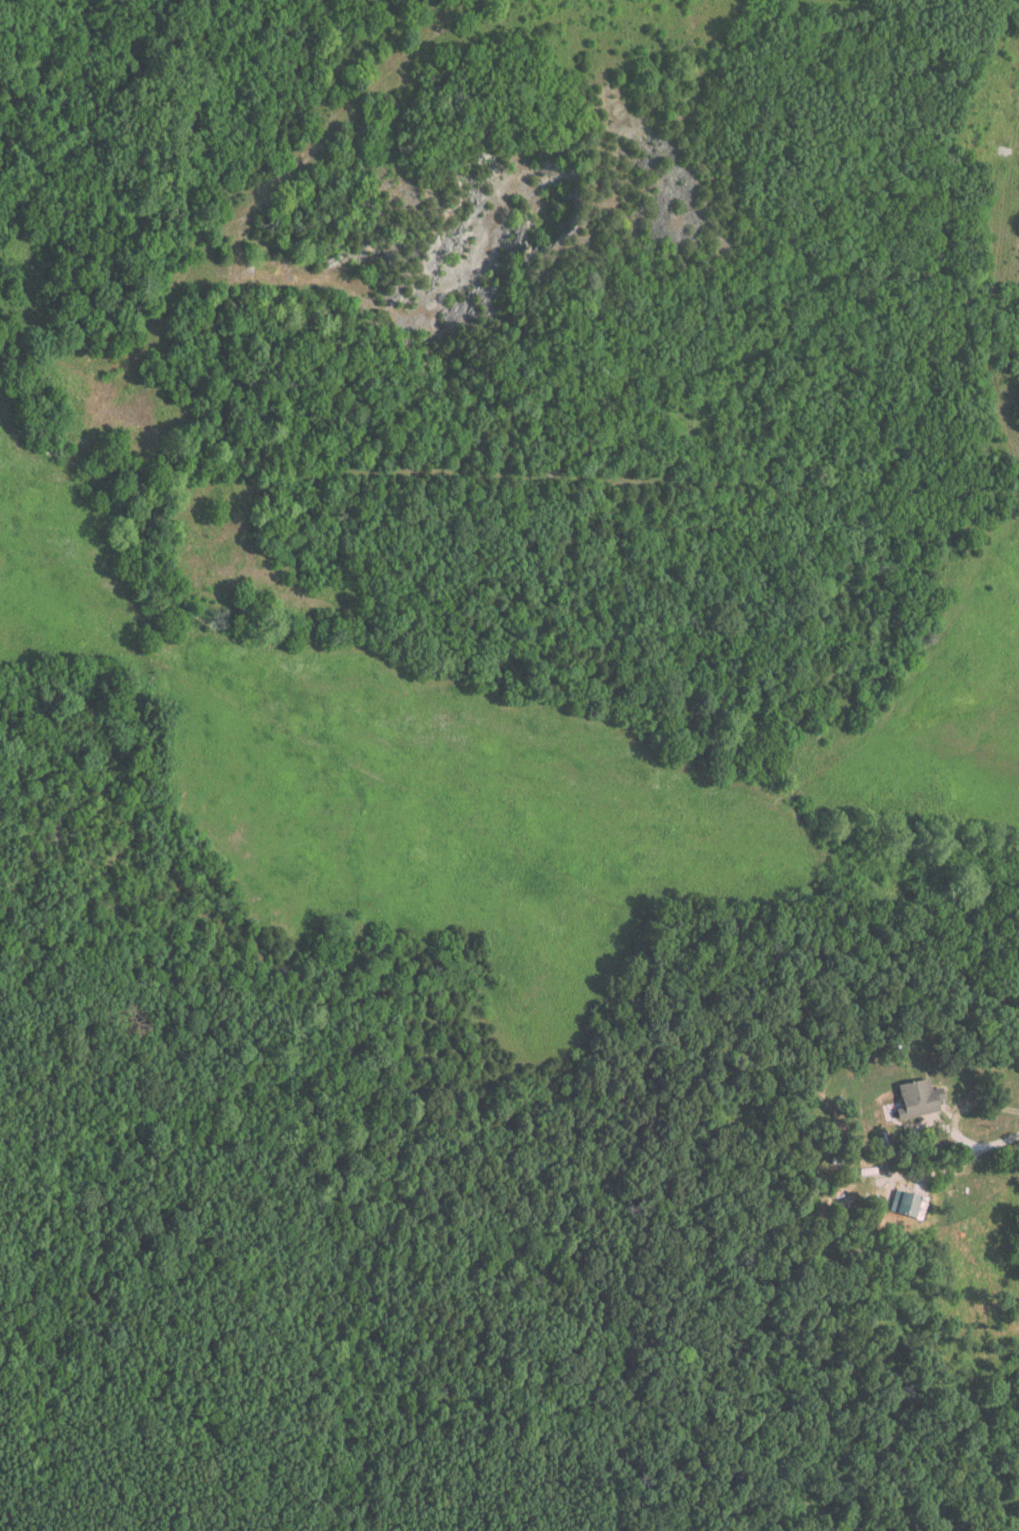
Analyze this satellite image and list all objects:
building: (913, 1099)
building: (906, 1205)

